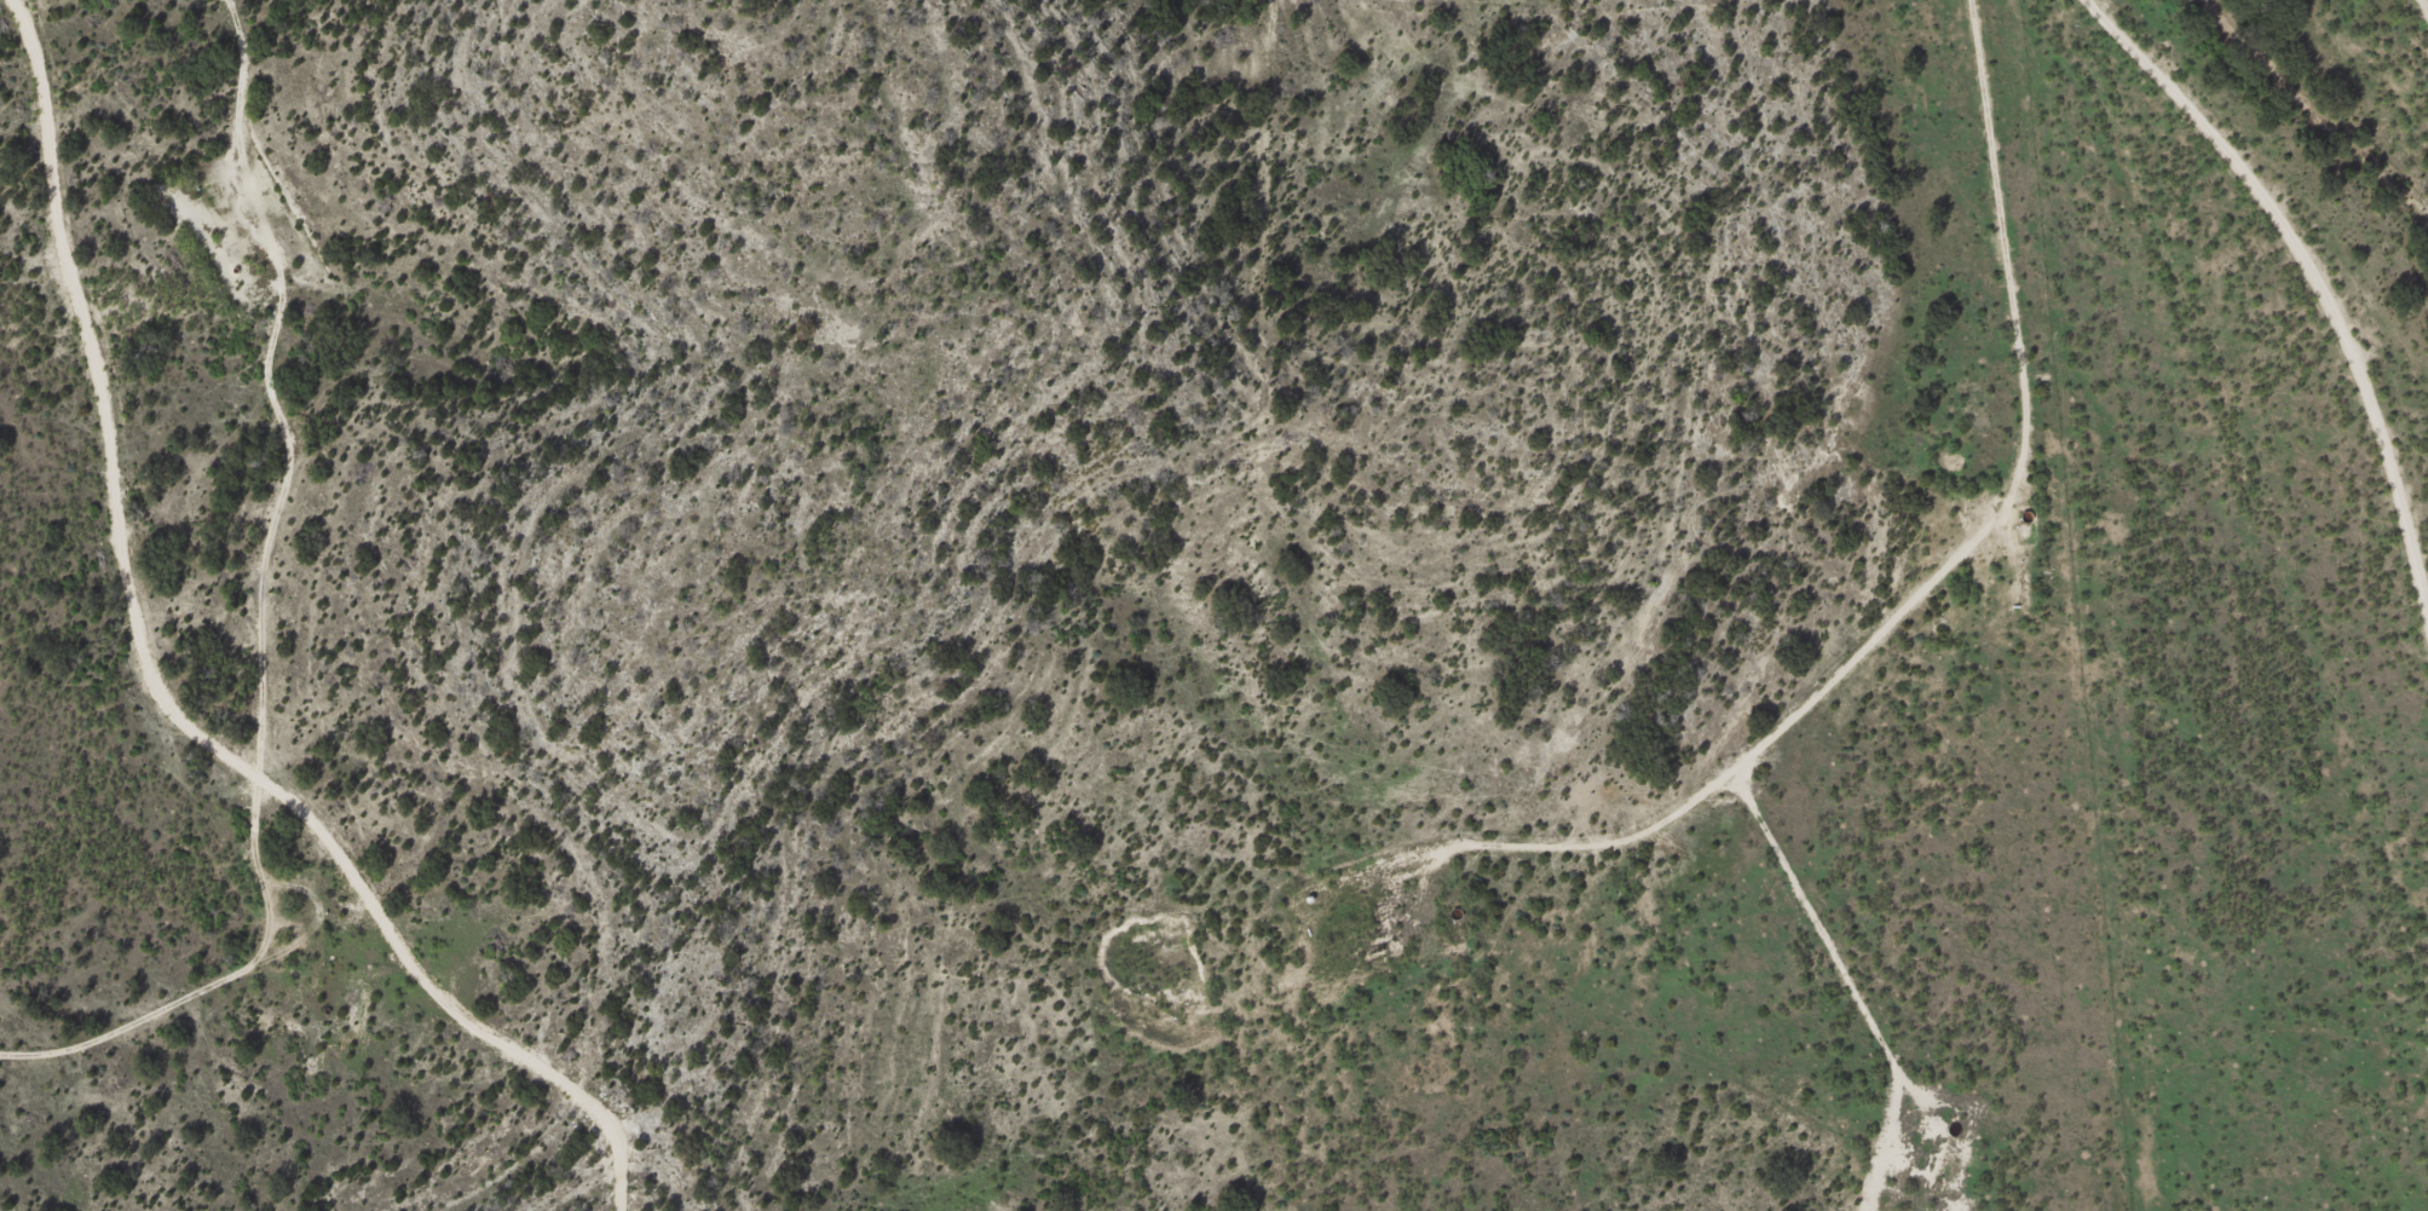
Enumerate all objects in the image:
road: (1999, 233)
road: (2320, 308)

